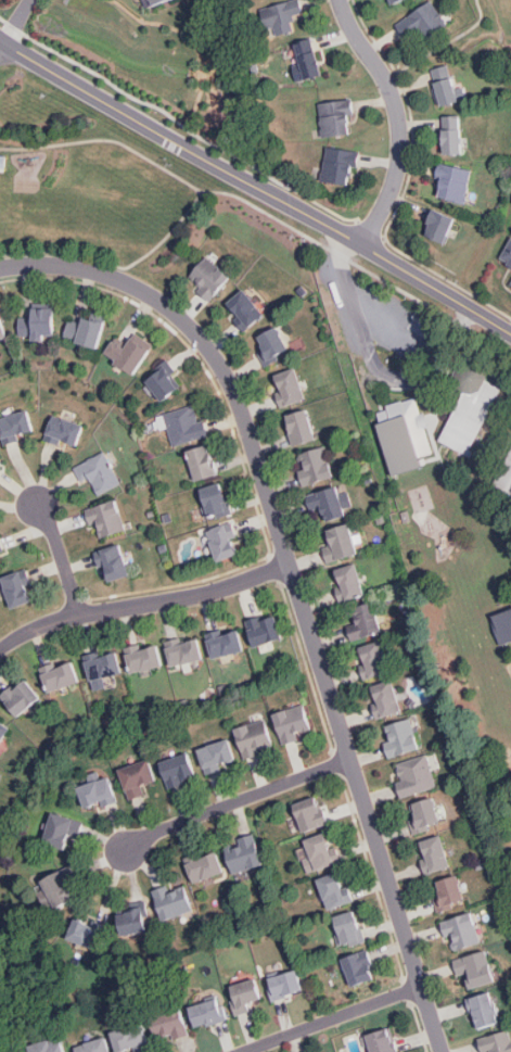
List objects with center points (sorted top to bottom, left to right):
building: (152, 2)
building: (395, 2)
building: (281, 16)
road: (3, 18)
building: (424, 18)
road: (18, 21)
road: (15, 27)
road: (193, 42)
road: (2, 43)
road: (442, 45)
building: (309, 56)
building: (445, 85)
building: (333, 115)
road: (399, 119)
road: (190, 130)
building: (453, 132)
road: (108, 140)
building: (2, 159)
building: (338, 162)
building: (455, 179)
road: (255, 186)
road: (256, 205)
building: (440, 224)
road: (370, 228)
building: (508, 253)
building: (209, 274)
road: (444, 277)
building: (245, 305)
road: (385, 320)
building: (40, 321)
building: (1, 330)
building: (88, 330)
building: (273, 340)
road: (368, 344)
building: (132, 350)
building: (165, 380)
building: (291, 382)
building: (470, 402)
building: (189, 419)
building: (15, 422)
building: (299, 422)
building: (64, 428)
building: (405, 431)
building: (203, 459)
building: (316, 461)
building: (1, 467)
building: (103, 467)
building: (506, 473)
building: (216, 497)
building: (331, 499)
building: (111, 517)
building: (342, 537)
building: (223, 538)
building: (2, 545)
road: (62, 558)
building: (115, 559)
building: (1, 565)
building: (352, 576)
road: (294, 585)
building: (20, 586)
road: (142, 603)
building: (365, 616)
building: (502, 623)
building: (265, 629)
building: (227, 642)
building: (184, 650)
building: (145, 656)
building: (376, 657)
building: (105, 663)
building: (63, 675)
building: (388, 696)
building: (22, 697)
building: (294, 721)
building: (2, 730)
building: (405, 733)
building: (256, 735)
building: (217, 752)
building: (177, 766)
building: (419, 772)
building: (139, 773)
building: (99, 793)
road: (234, 802)
building: (427, 811)
building: (309, 812)
building: (61, 828)
building: (319, 849)
building: (437, 851)
building: (245, 854)
building: (207, 862)
building: (58, 886)
building: (333, 888)
building: (448, 888)
building: (177, 902)
building: (135, 920)
building: (349, 927)
building: (465, 929)
building: (86, 930)
building: (358, 965)
building: (478, 966)
building: (285, 983)
building: (246, 994)
building: (485, 1007)
building: (208, 1012)
road: (333, 1019)
building: (171, 1025)
building: (131, 1036)
building: (382, 1039)
building: (500, 1040)
building: (49, 1045)
building: (95, 1045)

